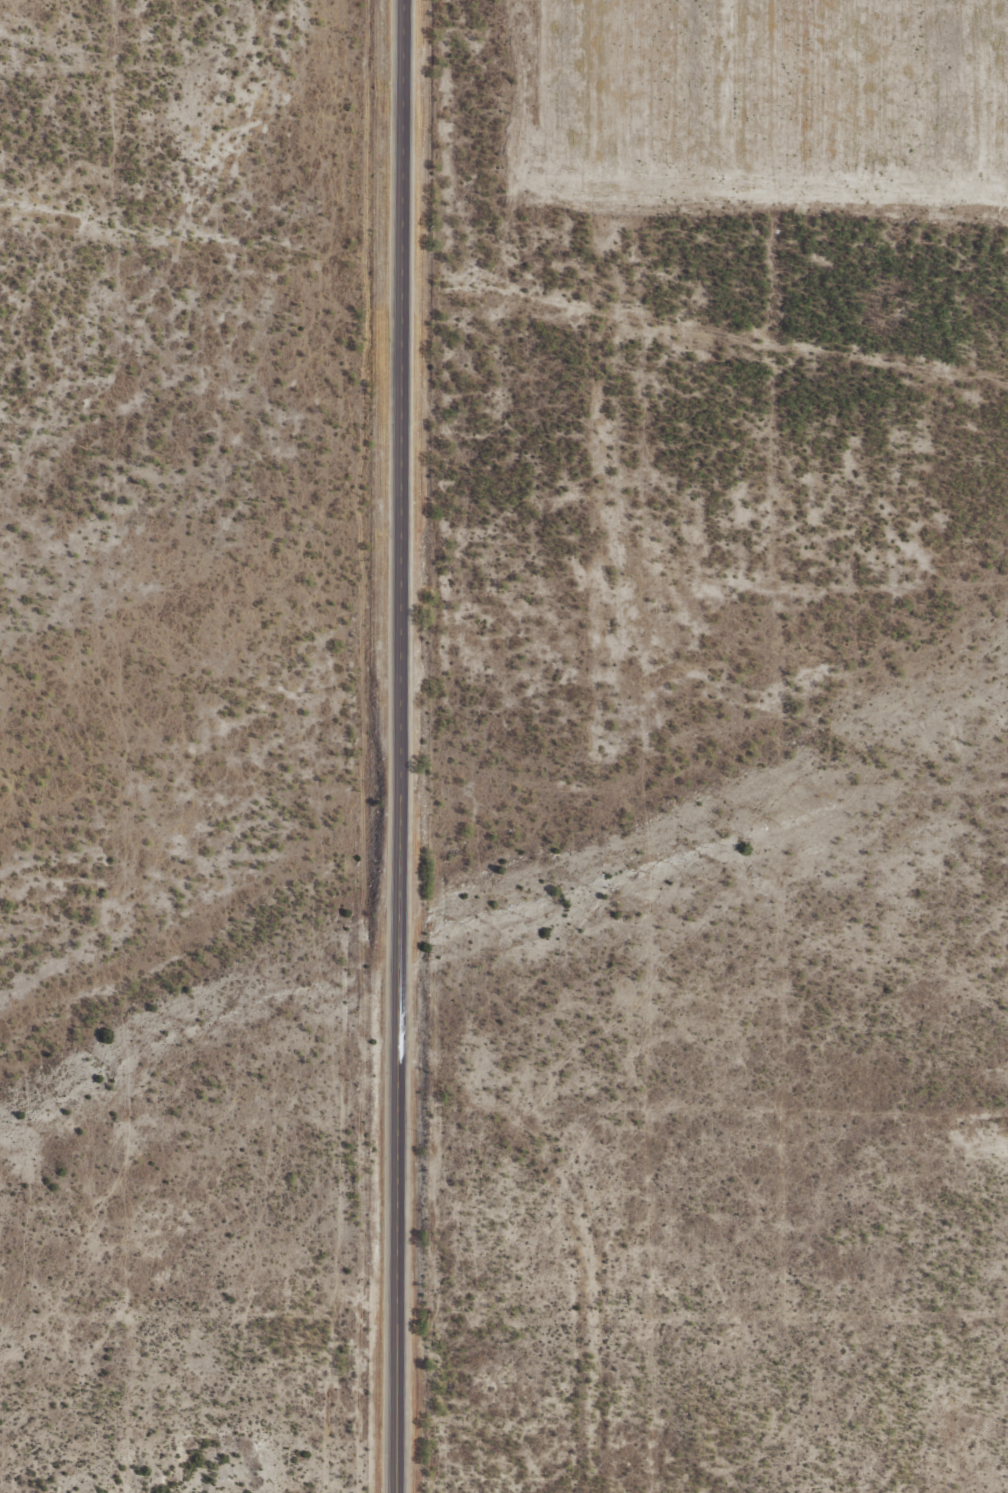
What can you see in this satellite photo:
road: (395, 746)

